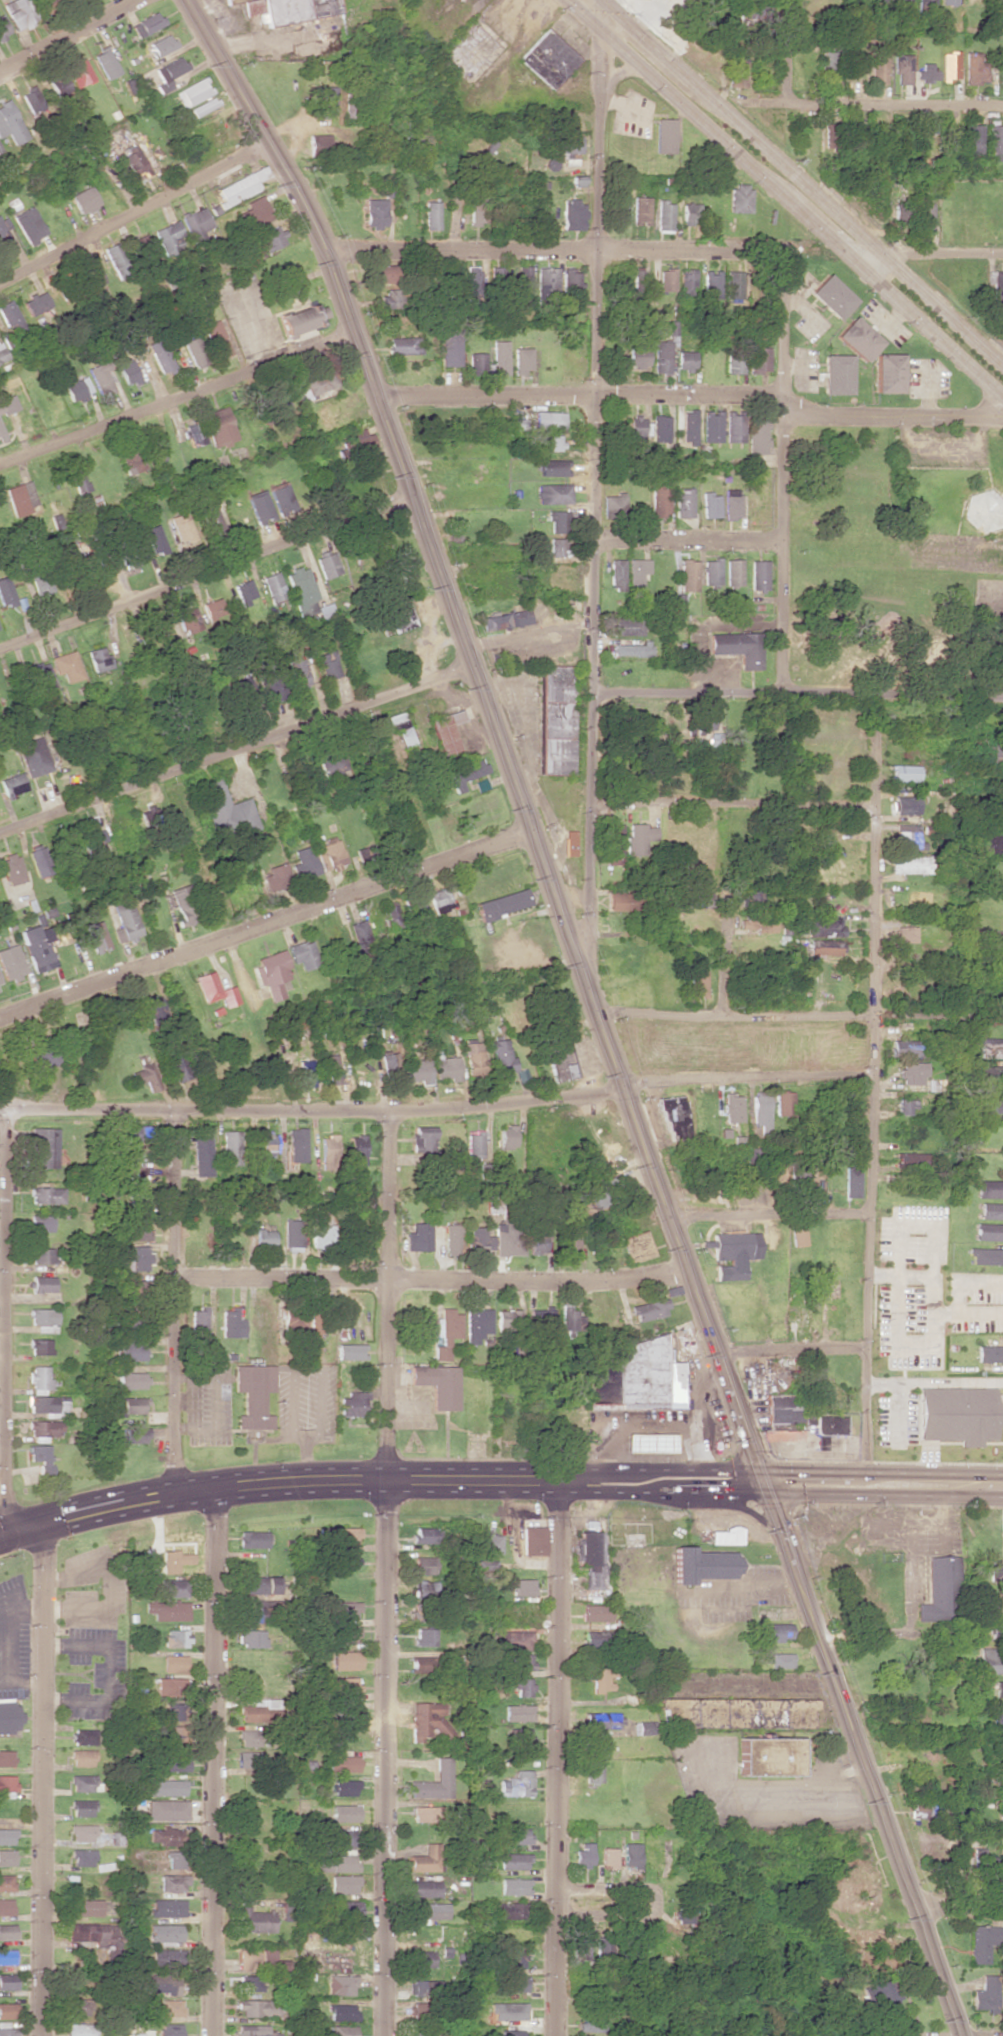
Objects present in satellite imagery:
building: (288, 9)
building: (20, 13)
building: (146, 24)
building: (3, 27)
traffic signals: (630, 27)
road: (65, 36)
building: (161, 45)
traffic signals: (599, 50)
road: (784, 50)
building: (548, 58)
building: (105, 63)
building: (877, 65)
building: (948, 65)
building: (825, 67)
building: (901, 68)
building: (973, 68)
building: (736, 71)
building: (924, 72)
building: (78, 73)
building: (169, 73)
building: (194, 91)
building: (29, 98)
building: (326, 101)
road: (893, 103)
building: (350, 106)
building: (202, 107)
building: (10, 123)
building: (664, 135)
building: (972, 139)
building: (318, 141)
building: (995, 142)
building: (567, 143)
building: (418, 144)
building: (133, 161)
road: (802, 177)
building: (241, 186)
road: (785, 196)
building: (739, 198)
building: (84, 199)
road: (453, 199)
road: (130, 208)
building: (620, 208)
building: (477, 209)
building: (640, 209)
building: (253, 212)
building: (374, 213)
building: (688, 213)
building: (901, 213)
building: (431, 215)
building: (572, 215)
building: (923, 215)
building: (196, 221)
building: (28, 224)
building: (4, 236)
building: (168, 237)
building: (268, 238)
building: (141, 242)
road: (553, 250)
road: (945, 251)
building: (115, 258)
road: (877, 262)
building: (381, 273)
building: (496, 274)
building: (570, 278)
building: (472, 279)
building: (667, 279)
building: (523, 281)
building: (687, 281)
building: (995, 283)
building: (546, 284)
building: (712, 284)
building: (735, 285)
building: (830, 296)
building: (389, 297)
building: (35, 302)
building: (301, 318)
building: (11, 319)
building: (672, 327)
building: (214, 338)
building: (857, 338)
building: (404, 345)
building: (451, 347)
building: (194, 352)
building: (2, 354)
building: (160, 355)
building: (639, 355)
building: (499, 357)
building: (662, 357)
building: (758, 358)
building: (521, 359)
building: (685, 360)
building: (734, 362)
building: (476, 363)
building: (127, 372)
building: (888, 373)
building: (836, 374)
building: (101, 378)
building: (319, 382)
building: (77, 388)
road: (171, 393)
road: (688, 397)
building: (8, 404)
building: (548, 419)
building: (711, 425)
building: (220, 426)
building: (689, 426)
building: (733, 427)
building: (637, 428)
building: (660, 428)
building: (194, 433)
building: (756, 433)
building: (2, 434)
building: (361, 441)
building: (548, 442)
building: (133, 461)
building: (553, 467)
road: (782, 472)
road: (598, 476)
building: (77, 478)
building: (552, 493)
building: (22, 498)
building: (281, 498)
building: (659, 500)
building: (613, 502)
building: (683, 502)
building: (731, 503)
building: (710, 504)
building: (261, 507)
building: (985, 509)
building: (556, 521)
building: (183, 526)
building: (155, 538)
road: (690, 538)
building: (556, 547)
road: (966, 554)
building: (327, 565)
building: (711, 572)
building: (733, 572)
building: (616, 574)
road: (203, 575)
building: (688, 575)
building: (758, 575)
building: (636, 576)
building: (42, 584)
building: (273, 587)
building: (301, 590)
building: (6, 592)
building: (244, 592)
building: (678, 602)
building: (213, 609)
building: (398, 617)
building: (188, 619)
building: (505, 620)
building: (626, 626)
building: (159, 632)
building: (738, 647)
building: (630, 649)
building: (100, 659)
building: (327, 664)
building: (68, 665)
building: (296, 669)
building: (271, 683)
road: (797, 690)
building: (243, 694)
building: (396, 716)
building: (557, 720)
building: (445, 731)
building: (405, 736)
building: (714, 738)
road: (232, 749)
building: (992, 751)
building: (34, 756)
building: (331, 764)
building: (465, 772)
building: (903, 772)
building: (13, 785)
road: (733, 804)
building: (905, 805)
building: (225, 810)
building: (995, 811)
building: (90, 836)
building: (907, 837)
building: (638, 838)
building: (571, 842)
building: (613, 843)
building: (991, 844)
building: (330, 854)
building: (365, 854)
building: (39, 859)
road: (198, 859)
building: (305, 861)
building: (910, 864)
building: (12, 868)
building: (276, 876)
building: (696, 899)
building: (440, 900)
building: (628, 901)
building: (503, 904)
building: (183, 905)
building: (753, 909)
building: (394, 914)
building: (125, 918)
road: (263, 923)
building: (823, 926)
building: (905, 934)
building: (98, 937)
building: (362, 945)
building: (825, 946)
building: (37, 947)
building: (304, 954)
road: (722, 957)
building: (991, 962)
building: (11, 963)
building: (273, 973)
building: (697, 982)
building: (215, 989)
building: (0, 990)
road: (594, 1007)
building: (153, 1009)
road: (798, 1016)
building: (906, 1048)
building: (991, 1048)
building: (503, 1057)
building: (44, 1058)
building: (475, 1058)
building: (390, 1061)
building: (175, 1065)
building: (561, 1065)
building: (448, 1068)
building: (333, 1069)
building: (419, 1071)
building: (911, 1072)
building: (306, 1073)
road: (747, 1076)
building: (989, 1076)
building: (146, 1077)
road: (872, 1088)
building: (785, 1102)
building: (990, 1105)
building: (904, 1106)
road: (311, 1107)
building: (673, 1107)
building: (731, 1107)
building: (760, 1110)
building: (138, 1133)
building: (508, 1137)
building: (423, 1138)
building: (268, 1143)
building: (297, 1145)
building: (44, 1147)
building: (230, 1148)
building: (474, 1148)
building: (357, 1150)
building: (329, 1151)
building: (201, 1154)
building: (910, 1161)
building: (801, 1172)
building: (851, 1182)
building: (989, 1189)
building: (597, 1194)
building: (47, 1195)
building: (991, 1210)
road: (768, 1215)
building: (41, 1223)
building: (357, 1229)
building: (989, 1231)
building: (292, 1232)
building: (320, 1233)
building: (263, 1234)
building: (419, 1237)
building: (453, 1238)
building: (480, 1238)
building: (570, 1238)
building: (509, 1239)
building: (538, 1243)
building: (636, 1245)
building: (733, 1253)
building: (42, 1255)
building: (985, 1256)
building: (138, 1258)
road: (433, 1279)
building: (43, 1284)
road: (178, 1302)
building: (648, 1309)
building: (124, 1315)
building: (43, 1316)
building: (570, 1318)
road: (5, 1320)
building: (200, 1321)
building: (541, 1321)
building: (315, 1322)
building: (508, 1322)
building: (232, 1323)
building: (478, 1325)
building: (447, 1332)
building: (40, 1346)
building: (131, 1349)
building: (351, 1351)
road: (791, 1352)
building: (989, 1353)
building: (647, 1375)
building: (814, 1375)
building: (40, 1379)
building: (131, 1380)
building: (439, 1384)
building: (253, 1394)
road: (2, 1397)
building: (354, 1403)
building: (48, 1405)
building: (131, 1405)
building: (783, 1408)
building: (956, 1414)
building: (44, 1428)
building: (828, 1428)
building: (134, 1434)
building: (649, 1441)
building: (41, 1457)
road: (498, 1478)
traffic signals: (764, 1481)
building: (1001, 1519)
building: (424, 1534)
building: (341, 1535)
building: (725, 1536)
building: (251, 1539)
building: (532, 1540)
building: (486, 1549)
building: (588, 1557)
building: (173, 1560)
building: (347, 1560)
building: (424, 1563)
building: (703, 1564)
building: (996, 1571)
road: (386, 1573)
building: (258, 1584)
building: (522, 1586)
building: (937, 1586)
building: (172, 1587)
building: (420, 1588)
road: (905, 1601)
building: (994, 1601)
building: (167, 1610)
building: (345, 1610)
building: (254, 1611)
building: (997, 1630)
building: (775, 1632)
building: (346, 1635)
building: (424, 1636)
building: (175, 1638)
building: (591, 1638)
building: (250, 1639)
building: (517, 1640)
building: (347, 1660)
building: (780, 1660)
building: (520, 1661)
building: (991, 1661)
building: (174, 1663)
building: (423, 1664)
building: (600, 1679)
building: (248, 1684)
building: (342, 1685)
building: (170, 1686)
building: (520, 1686)
building: (999, 1688)
building: (350, 1709)
building: (175, 1711)
building: (258, 1712)
building: (515, 1712)
building: (737, 1712)
building: (8, 1716)
building: (427, 1720)
building: (603, 1720)
building: (998, 1720)
building: (643, 1727)
building: (171, 1735)
building: (84, 1736)
building: (519, 1736)
building: (249, 1737)
building: (1000, 1751)
building: (768, 1756)
building: (6, 1757)
building: (83, 1757)
road: (557, 1757)
building: (248, 1759)
road: (213, 1761)
building: (343, 1763)
building: (591, 1772)
building: (1000, 1776)
road: (42, 1779)
building: (85, 1782)
building: (434, 1782)
building: (516, 1784)
building: (165, 1787)
building: (345, 1787)
building: (83, 1807)
building: (167, 1809)
building: (922, 1810)
building: (345, 1812)
building: (420, 1813)
building: (1001, 1819)
building: (83, 1832)
building: (162, 1835)
building: (514, 1835)
building: (6, 1836)
building: (341, 1837)
building: (1002, 1849)
building: (583, 1854)
building: (631, 1855)
building: (6, 1857)
building: (83, 1857)
building: (608, 1857)
building: (426, 1858)
building: (172, 1859)
building: (337, 1861)
building: (513, 1861)
building: (6, 1882)
building: (173, 1883)
building: (344, 1883)
building: (514, 1886)
building: (424, 1888)
road: (601, 1893)
building: (6, 1906)
building: (84, 1907)
building: (167, 1907)
road: (958, 1908)
building: (349, 1909)
building: (430, 1910)
building: (508, 1910)
building: (256, 1920)
building: (7, 1931)
building: (86, 1933)
building: (165, 1934)
building: (982, 1941)
building: (603, 1948)
building: (7, 1956)
building: (167, 1956)
building: (422, 1958)
building: (510, 1959)
building: (260, 1960)
building: (7, 1981)
building: (250, 1983)
building: (516, 1983)
building: (160, 1984)
building: (341, 1985)
building: (421, 1986)
building: (986, 1994)
building: (883, 1997)
building: (1002, 1997)
building: (78, 2006)
building: (171, 2007)
building: (258, 2007)
building: (421, 2009)
building: (7, 2010)
building: (507, 2011)
building: (342, 2012)
building: (590, 2022)
building: (79, 2029)
building: (171, 2029)
building: (254, 2030)
building: (343, 2030)
building: (421, 2030)
building: (7, 2031)
building: (512, 2033)

